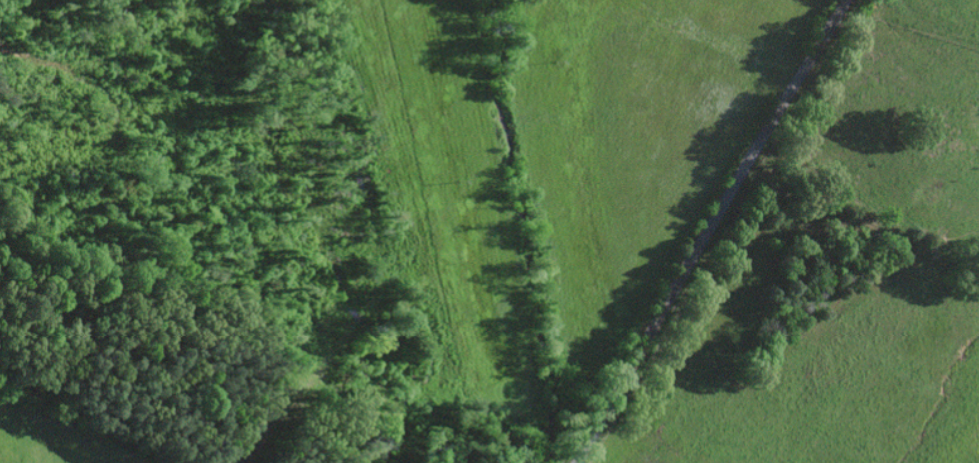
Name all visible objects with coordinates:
road: (706, 230)

